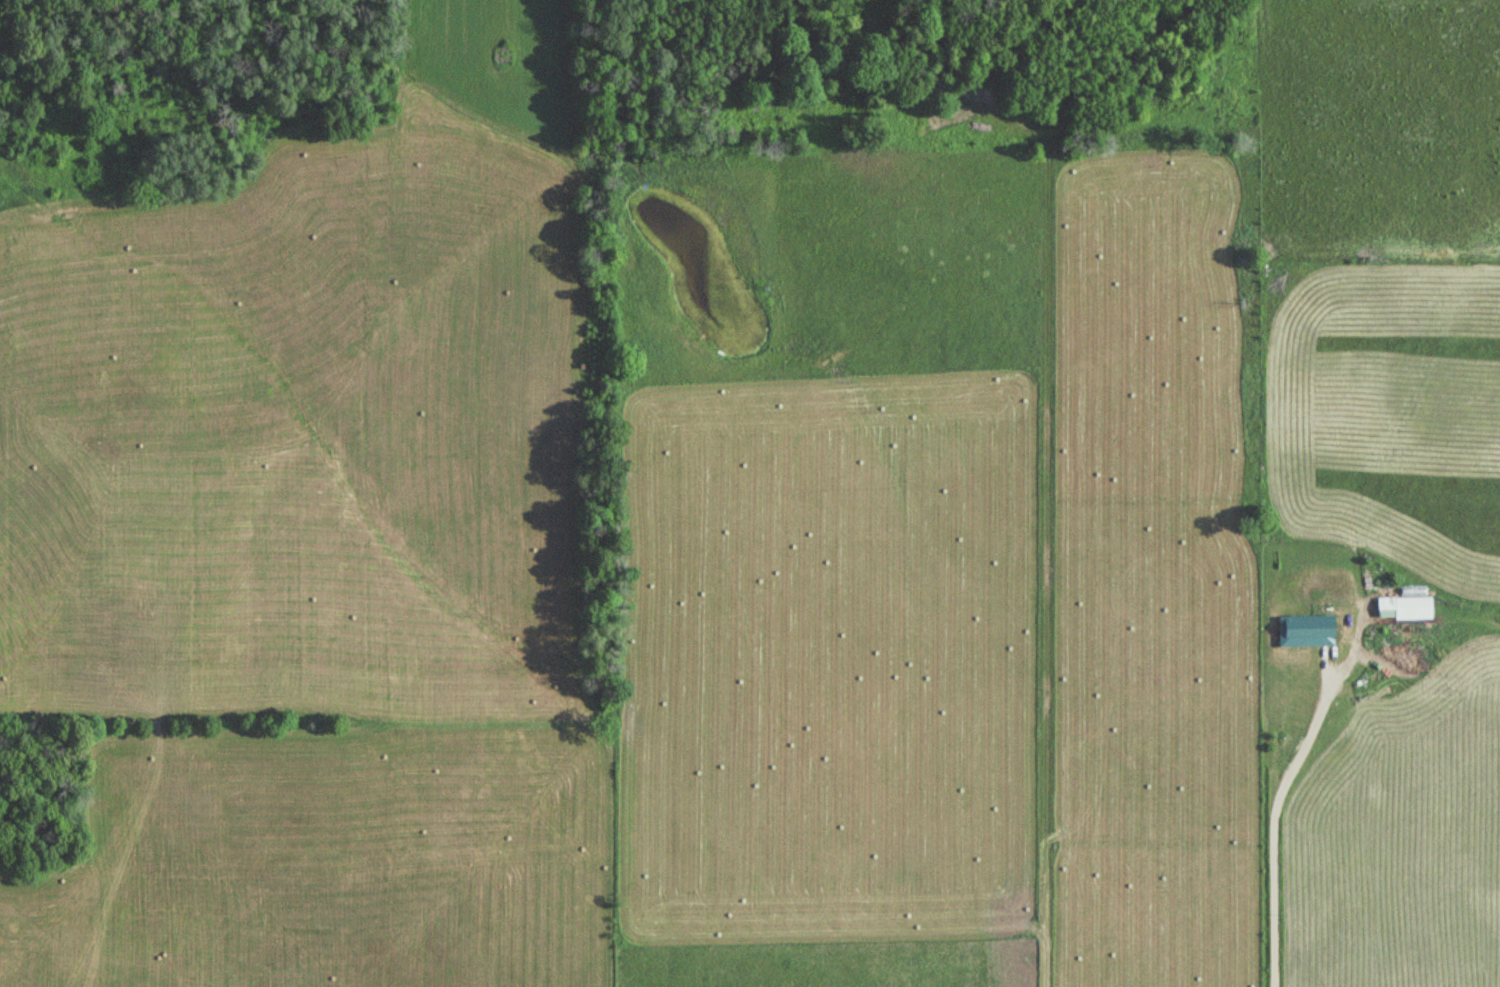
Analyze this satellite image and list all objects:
building: (1402, 608)
building: (1303, 630)

